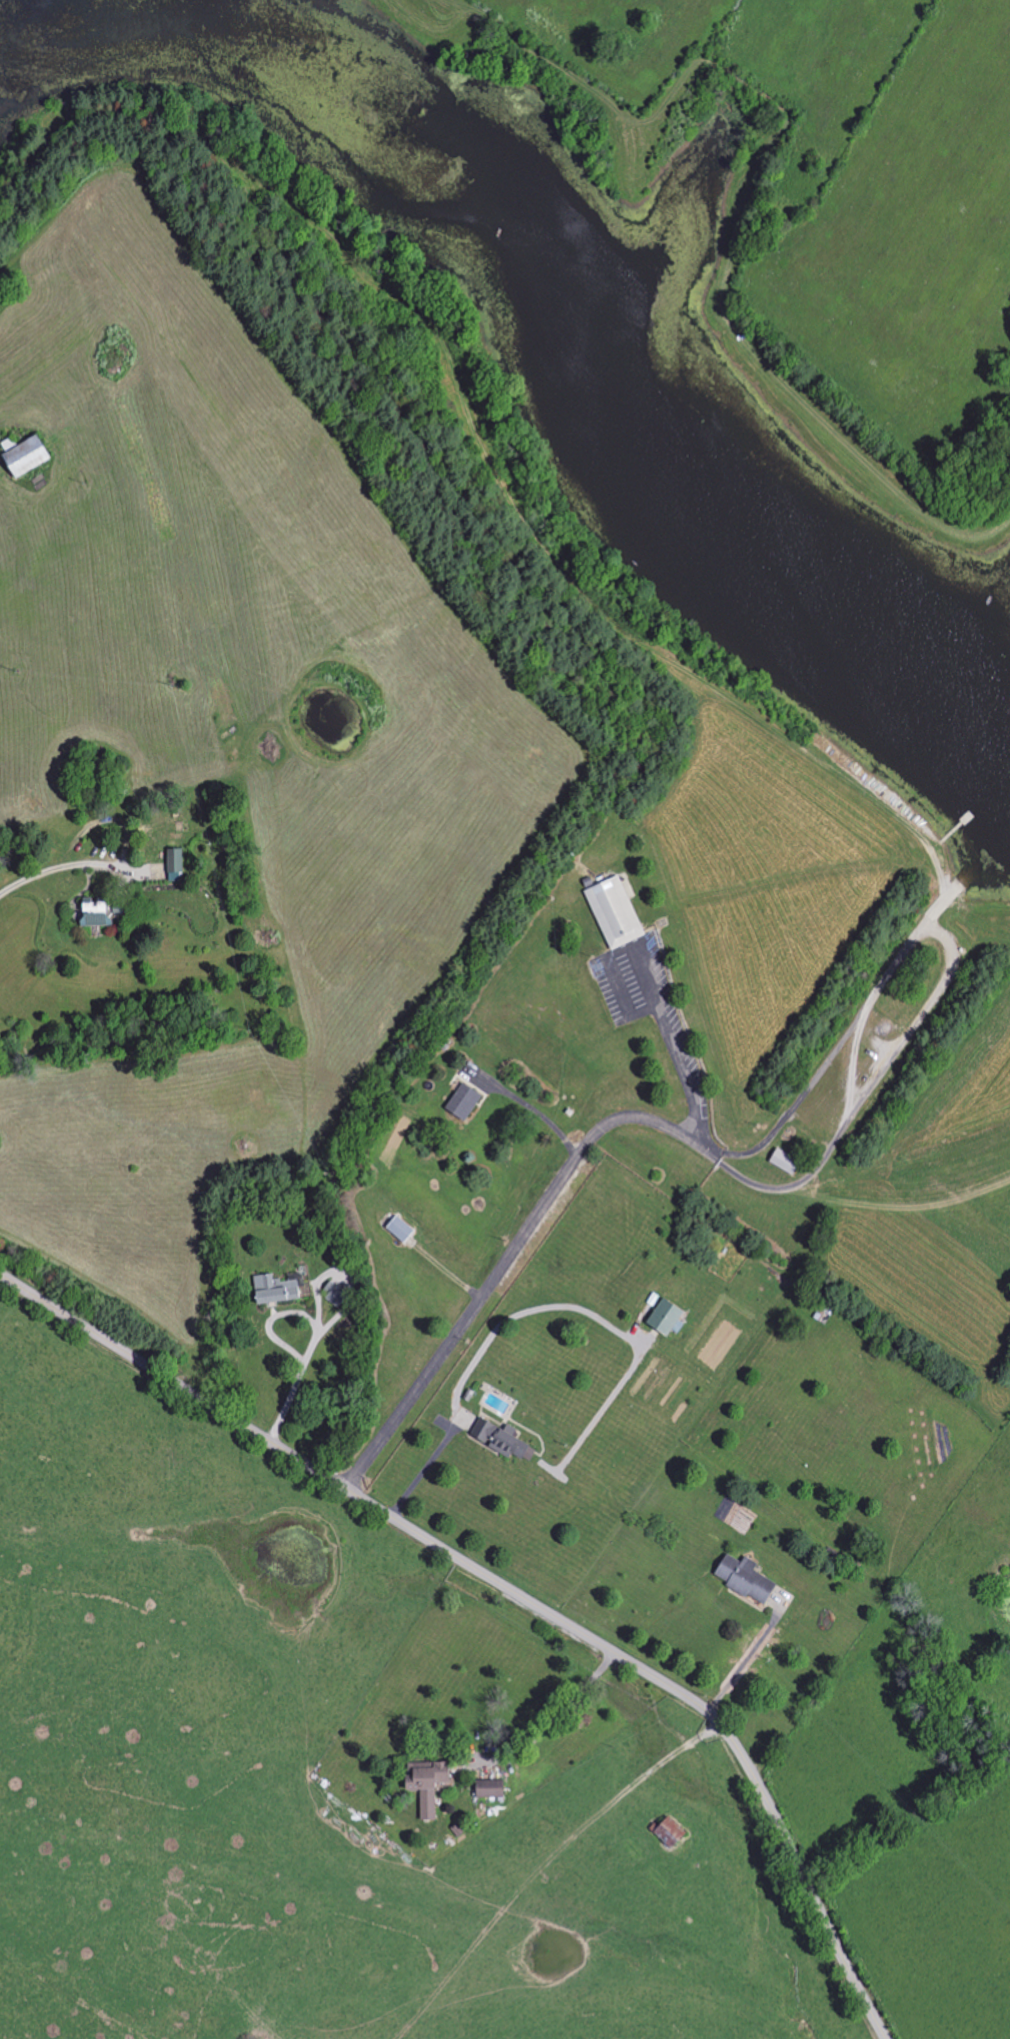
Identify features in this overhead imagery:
building: (35, 457)
building: (172, 865)
road: (57, 870)
building: (612, 913)
building: (89, 914)
building: (461, 1102)
road: (534, 1111)
road: (757, 1148)
building: (780, 1161)
road: (551, 1186)
building: (398, 1231)
building: (272, 1290)
building: (331, 1292)
building: (662, 1319)
road: (509, 1322)
road: (314, 1371)
building: (500, 1442)
road: (422, 1472)
building: (741, 1578)
road: (512, 1592)
road: (743, 1661)
road: (551, 1720)
building: (422, 1786)
building: (488, 1789)
building: (665, 1832)

